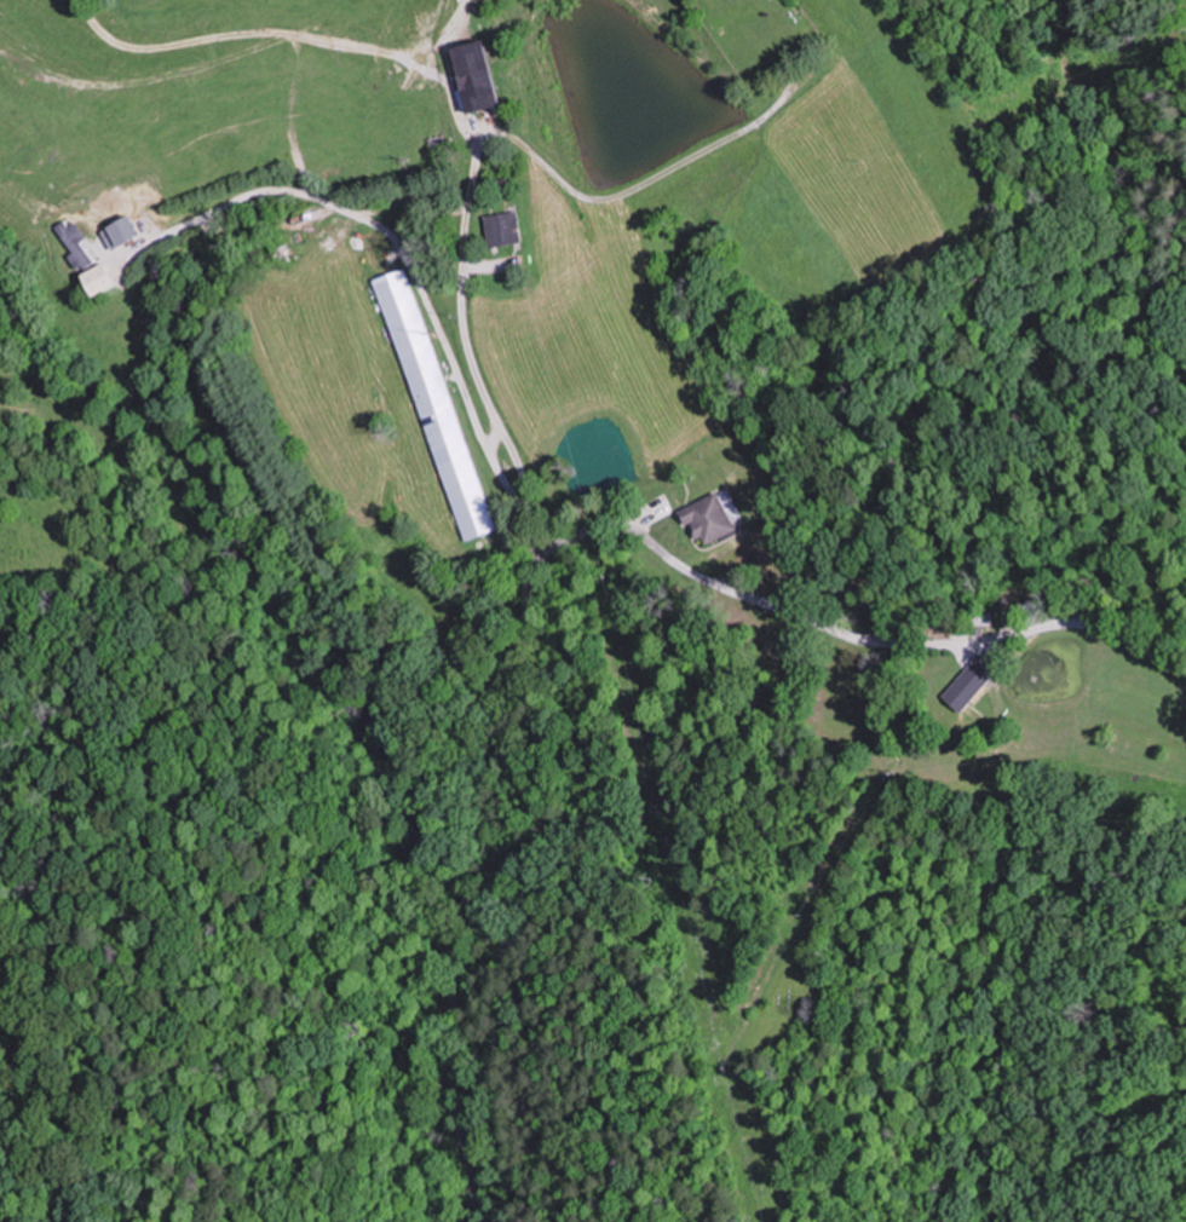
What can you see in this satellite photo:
park: (761, 35)
building: (478, 75)
building: (505, 229)
building: (90, 263)
building: (436, 404)
building: (710, 519)
road: (851, 633)
building: (972, 684)
road: (474, 716)

